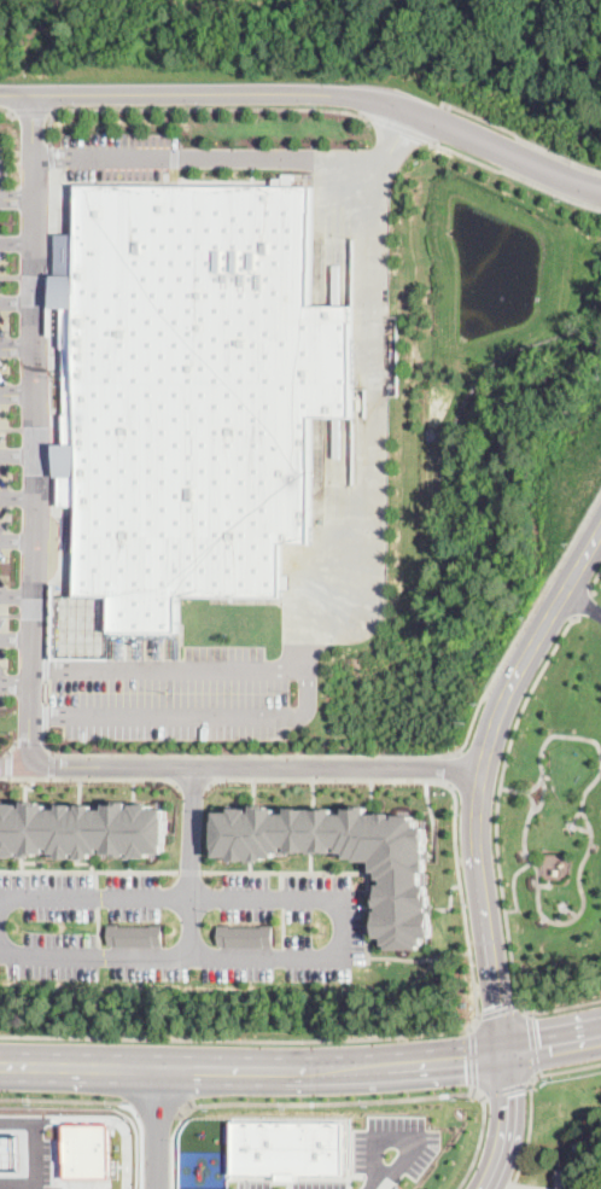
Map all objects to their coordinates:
road: (309, 91)
road: (188, 106)
road: (7, 109)
road: (30, 109)
road: (440, 120)
road: (399, 124)
road: (523, 136)
road: (47, 153)
parking lot: (119, 156)
road: (237, 159)
road: (519, 173)
parking lot: (1, 182)
road: (14, 198)
road: (14, 240)
parking lot: (4, 255)
road: (14, 302)
road: (14, 346)
parking lot: (4, 351)
building: (202, 390)
road: (14, 395)
road: (47, 412)
road: (29, 429)
road: (14, 453)
parking lot: (4, 496)
road: (14, 499)
road: (13, 542)
road: (595, 576)
road: (363, 589)
road: (13, 595)
road: (584, 599)
road: (584, 600)
parking lot: (2, 639)
road: (13, 639)
road: (43, 665)
road: (167, 666)
road: (13, 689)
road: (43, 689)
parking lot: (173, 697)
road: (45, 715)
road: (27, 740)
road: (8, 746)
road: (390, 753)
road: (7, 762)
road: (49, 762)
road: (241, 767)
road: (455, 767)
road: (89, 775)
road: (482, 777)
road: (443, 781)
road: (192, 782)
road: (536, 785)
road: (498, 797)
road: (574, 822)
building: (83, 829)
road: (582, 857)
road: (189, 862)
road: (91, 868)
road: (192, 869)
road: (331, 869)
building: (402, 874)
road: (514, 887)
road: (199, 901)
parking lot: (180, 927)
building: (136, 934)
building: (247, 934)
road: (170, 956)
road: (418, 958)
road: (497, 1008)
road: (558, 1008)
road: (241, 1038)
road: (532, 1042)
road: (553, 1044)
traffic signals: (506, 1054)
road: (472, 1055)
road: (568, 1066)
road: (252, 1071)
road: (506, 1086)
road: (63, 1097)
road: (325, 1101)
road: (153, 1103)
road: (507, 1123)
road: (157, 1130)
road: (529, 1130)
road: (41, 1131)
road: (403, 1137)
road: (479, 1138)
road: (170, 1147)
building: (11, 1148)
building: (288, 1148)
parking lot: (393, 1149)
building: (87, 1150)
building: (595, 1175)
road: (21, 1177)
building: (566, 1179)
parking lot: (255, 1184)
parking lot: (321, 1184)

